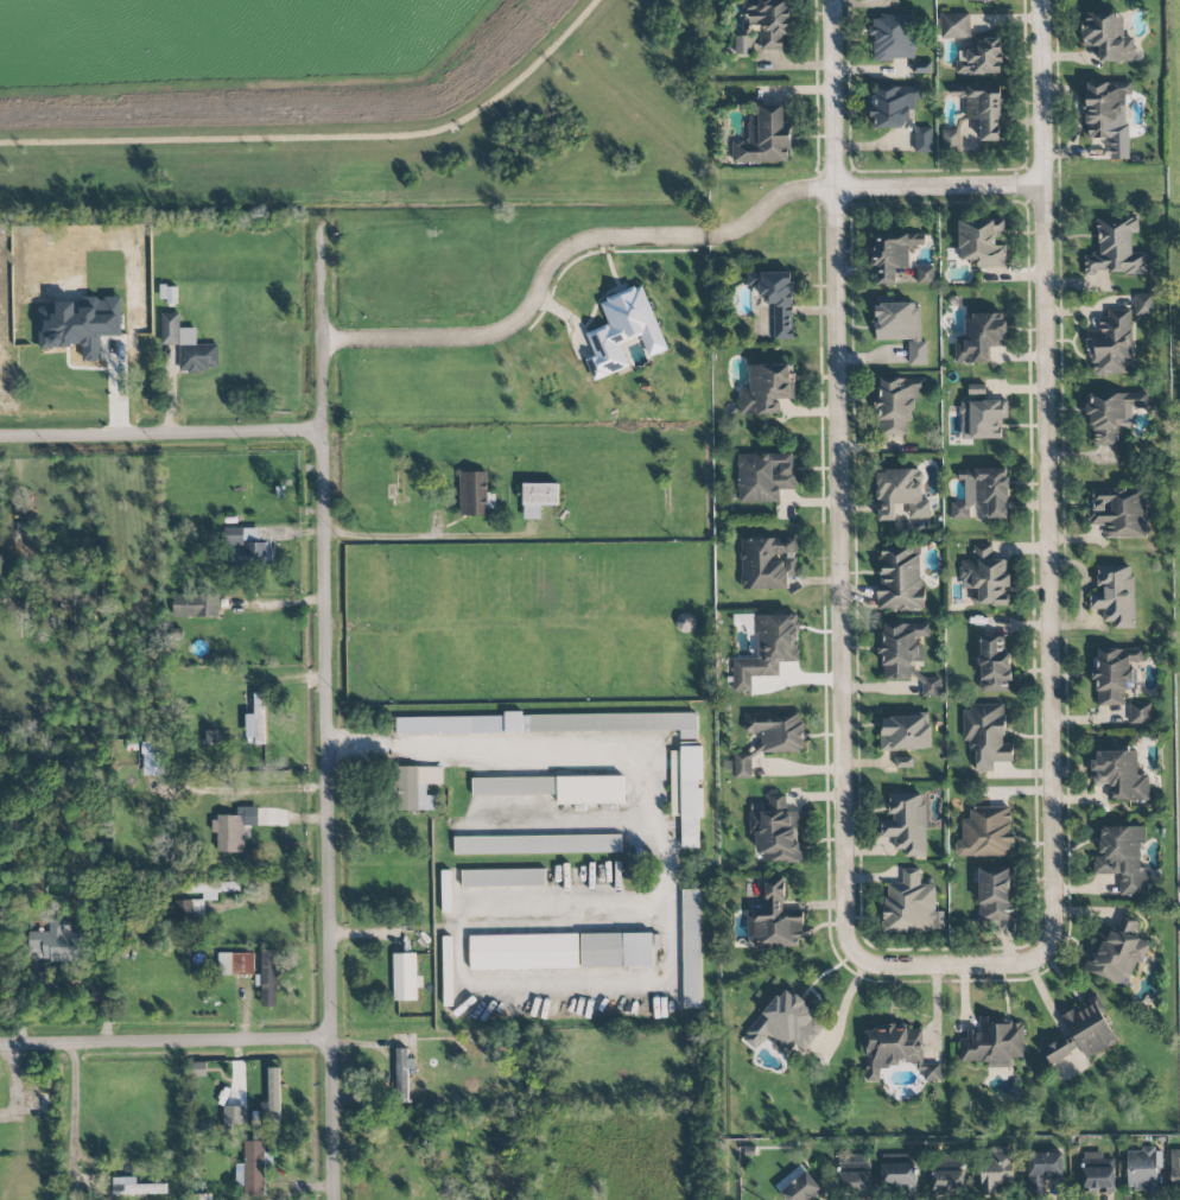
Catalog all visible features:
building: (769, 21)
building: (954, 25)
building: (893, 37)
building: (1108, 37)
building: (742, 45)
building: (979, 57)
building: (894, 106)
building: (1105, 107)
building: (983, 108)
building: (765, 138)
building: (922, 139)
building: (951, 139)
road: (868, 188)
building: (982, 242)
building: (1115, 247)
building: (893, 253)
building: (925, 274)
building: (776, 299)
building: (1143, 304)
road: (528, 309)
building: (80, 324)
building: (900, 326)
building: (623, 331)
building: (979, 338)
building: (188, 345)
building: (1111, 345)
building: (767, 388)
building: (896, 402)
building: (1179, 411)
building: (1112, 414)
building: (982, 419)
road: (163, 434)
road: (1047, 466)
road: (835, 471)
building: (765, 476)
building: (472, 493)
building: (983, 493)
building: (900, 494)
building: (538, 499)
building: (1119, 512)
road: (386, 529)
building: (247, 545)
building: (767, 563)
building: (986, 577)
building: (900, 578)
building: (1115, 595)
building: (196, 605)
building: (901, 648)
building: (768, 649)
building: (994, 665)
building: (1115, 674)
building: (931, 686)
road: (330, 712)
building: (1140, 713)
building: (255, 720)
building: (552, 723)
building: (905, 732)
building: (986, 736)
road: (528, 745)
building: (903, 762)
building: (1119, 775)
building: (513, 786)
building: (417, 787)
building: (590, 789)
building: (687, 792)
building: (906, 823)
building: (233, 828)
building: (775, 830)
building: (985, 832)
building: (537, 844)
building: (1122, 858)
building: (503, 877)
building: (211, 889)
building: (995, 894)
road: (271, 897)
building: (912, 904)
building: (188, 912)
building: (774, 920)
building: (56, 941)
building: (691, 948)
building: (616, 950)
building: (524, 952)
building: (1116, 953)
building: (235, 964)
road: (949, 965)
building: (405, 977)
building: (268, 978)
building: (786, 1023)
building: (1090, 1028)
road: (164, 1042)
building: (994, 1042)
building: (895, 1052)
building: (1055, 1052)
road: (388, 1071)
building: (401, 1074)
building: (271, 1101)
road: (71, 1117)
building: (947, 1166)
building: (1174, 1168)
building: (254, 1169)
building: (1043, 1169)
building: (1143, 1169)
building: (996, 1170)
building: (1097, 1173)
building: (855, 1174)
building: (899, 1174)
building: (947, 1182)
building: (798, 1186)
building: (135, 1187)

